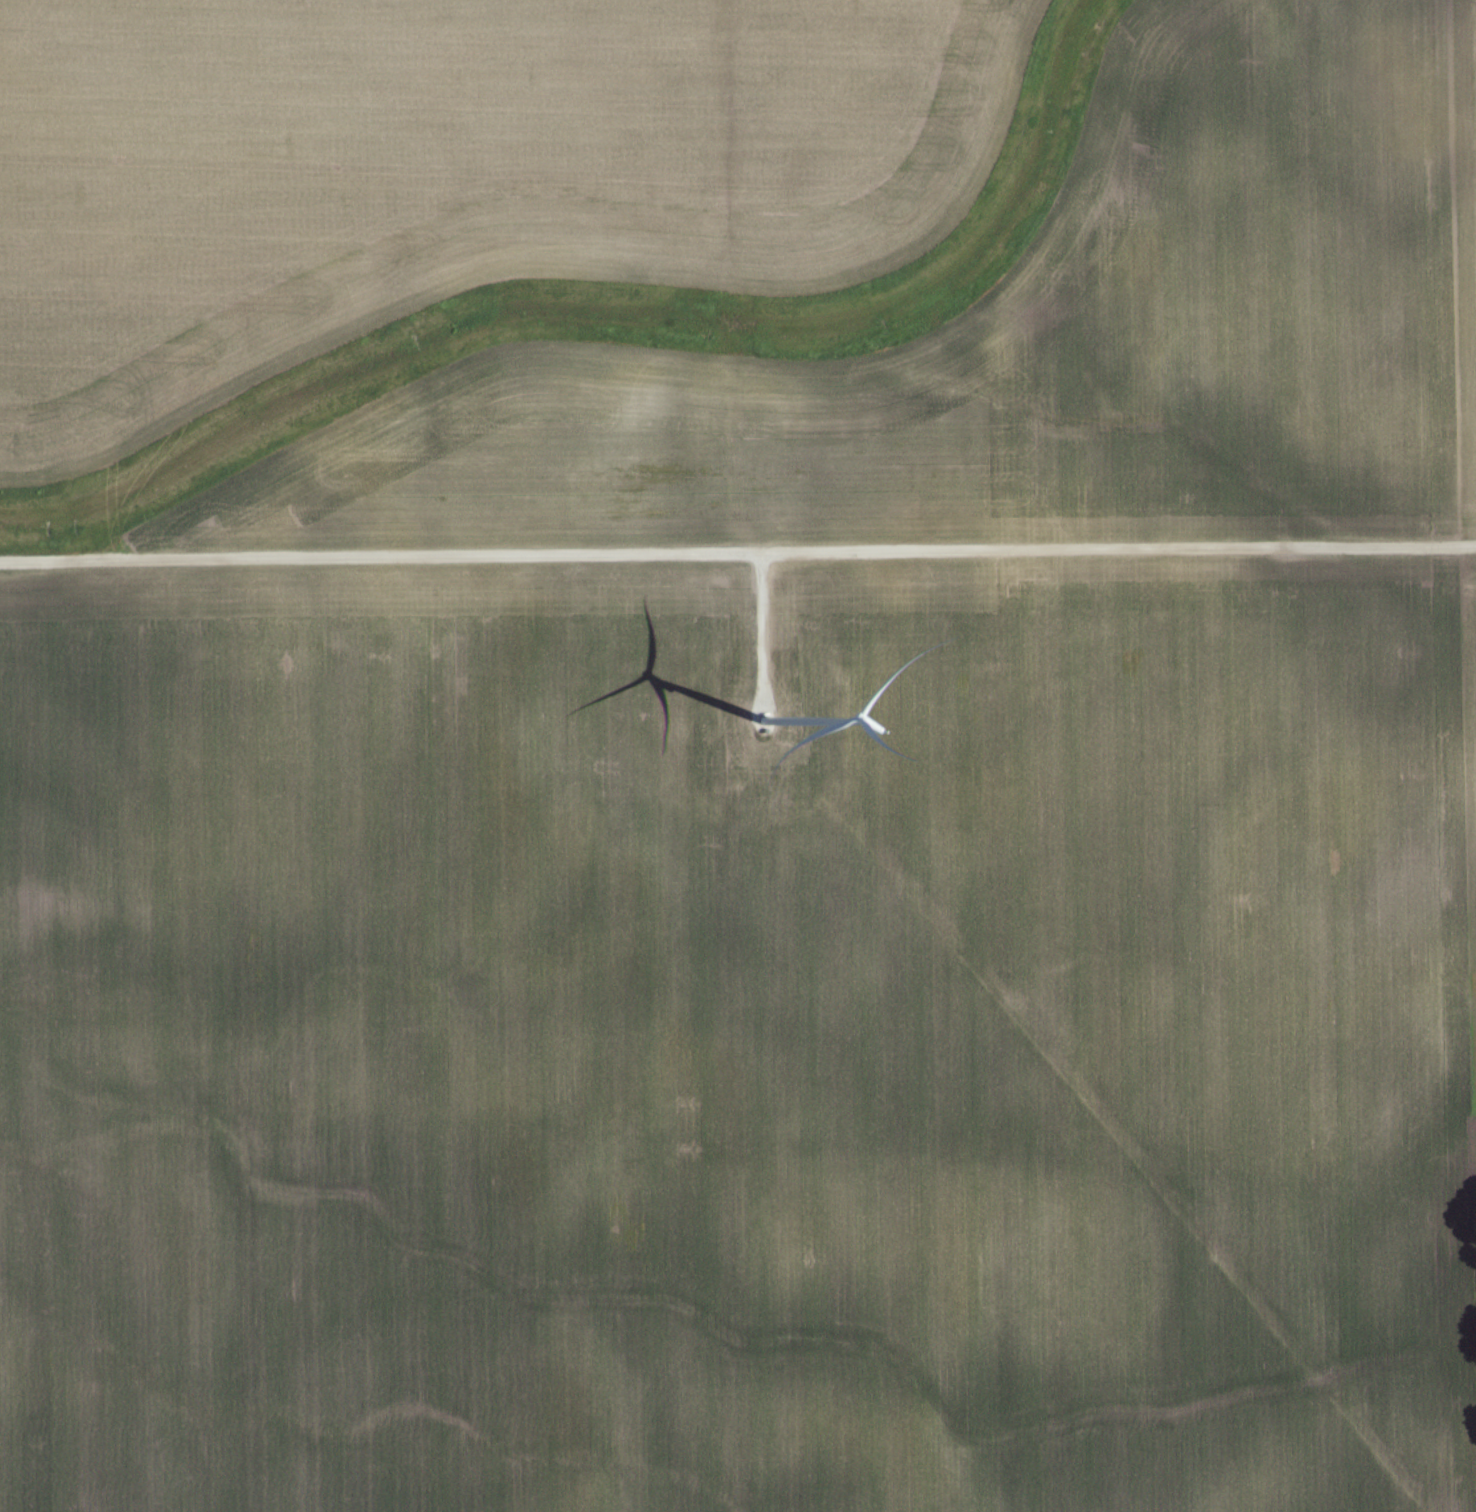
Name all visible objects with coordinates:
road: (738, 554)
road: (764, 630)
wind turbine: (757, 743)

